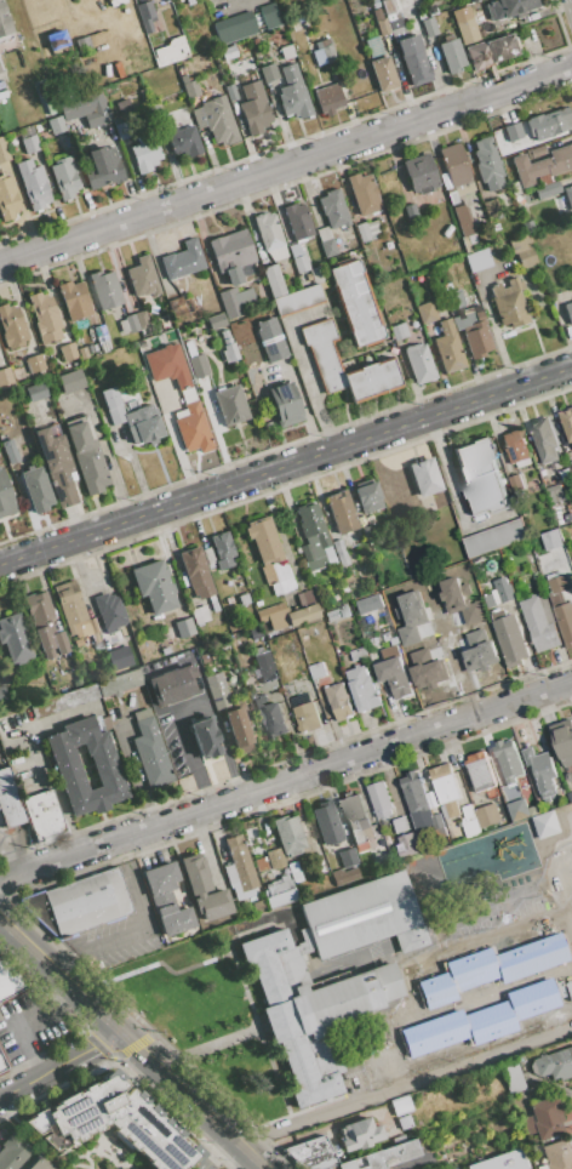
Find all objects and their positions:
building: (114, 2)
building: (189, 2)
building: (374, 4)
building: (388, 6)
building: (507, 7)
building: (431, 10)
building: (377, 15)
building: (145, 16)
building: (269, 16)
building: (390, 16)
building: (4, 19)
building: (233, 27)
building: (429, 27)
building: (396, 29)
building: (467, 29)
building: (447, 36)
building: (55, 41)
building: (7, 42)
building: (85, 45)
building: (373, 46)
building: (326, 50)
building: (170, 51)
building: (228, 52)
building: (287, 52)
building: (490, 52)
building: (452, 56)
building: (412, 59)
building: (118, 69)
building: (0, 70)
building: (269, 72)
building: (182, 74)
building: (383, 74)
building: (61, 78)
building: (107, 78)
building: (159, 82)
building: (190, 89)
building: (2, 90)
building: (230, 91)
building: (293, 93)
building: (42, 97)
building: (328, 98)
building: (121, 104)
building: (85, 107)
building: (17, 112)
building: (155, 114)
building: (176, 114)
building: (256, 116)
building: (216, 120)
building: (548, 122)
building: (55, 124)
building: (121, 127)
building: (513, 131)
building: (29, 138)
building: (183, 141)
building: (2, 150)
building: (536, 152)
building: (145, 153)
building: (487, 164)
road: (286, 165)
building: (508, 166)
building: (539, 166)
building: (101, 167)
building: (456, 169)
building: (419, 173)
building: (64, 177)
building: (33, 184)
building: (547, 189)
building: (364, 193)
building: (568, 196)
building: (7, 198)
building: (452, 198)
building: (491, 207)
building: (333, 209)
building: (410, 211)
building: (298, 221)
building: (463, 221)
building: (527, 226)
building: (373, 228)
building: (362, 233)
building: (270, 235)
building: (325, 241)
building: (467, 245)
building: (521, 251)
building: (230, 253)
building: (297, 257)
building: (183, 260)
building: (479, 260)
building: (314, 274)
building: (142, 278)
building: (273, 280)
building: (446, 286)
building: (105, 289)
building: (74, 300)
building: (298, 300)
building: (454, 301)
building: (238, 302)
building: (509, 302)
building: (355, 304)
building: (179, 306)
building: (425, 312)
building: (568, 312)
building: (45, 318)
building: (142, 320)
building: (216, 320)
building: (127, 324)
building: (11, 326)
building: (474, 330)
building: (399, 331)
building: (101, 333)
building: (270, 338)
building: (189, 347)
building: (227, 347)
building: (447, 347)
building: (68, 350)
building: (81, 352)
building: (324, 353)
building: (34, 363)
building: (419, 363)
building: (198, 365)
building: (141, 367)
road: (303, 367)
building: (5, 376)
building: (15, 376)
building: (372, 380)
building: (70, 381)
building: (35, 392)
building: (189, 399)
building: (230, 404)
building: (285, 404)
building: (111, 405)
building: (567, 423)
building: (143, 424)
building: (561, 429)
building: (545, 440)
building: (516, 447)
building: (11, 450)
building: (86, 457)
building: (56, 464)
road: (285, 464)
building: (16, 468)
building: (508, 469)
building: (565, 475)
building: (424, 477)
building: (481, 477)
building: (516, 485)
building: (36, 489)
building: (556, 495)
building: (367, 496)
building: (5, 497)
building: (341, 511)
building: (567, 519)
building: (367, 535)
building: (311, 536)
building: (496, 540)
building: (553, 541)
building: (222, 549)
building: (341, 554)
building: (328, 555)
building: (269, 557)
building: (208, 558)
building: (198, 575)
building: (154, 586)
building: (557, 587)
building: (342, 588)
building: (504, 591)
building: (332, 597)
building: (242, 598)
building: (230, 600)
building: (459, 601)
building: (490, 601)
building: (70, 603)
building: (371, 606)
building: (303, 609)
building: (109, 611)
building: (345, 611)
building: (199, 614)
building: (331, 615)
building: (274, 616)
building: (411, 618)
building: (40, 620)
building: (162, 621)
building: (564, 621)
building: (540, 623)
building: (88, 627)
building: (184, 627)
building: (15, 638)
building: (110, 638)
building: (96, 639)
building: (509, 639)
building: (61, 641)
building: (78, 641)
building: (165, 650)
building: (479, 651)
building: (359, 654)
building: (390, 654)
building: (119, 657)
building: (264, 667)
building: (427, 669)
building: (319, 675)
building: (395, 678)
building: (121, 684)
building: (175, 685)
building: (216, 685)
building: (1, 689)
building: (362, 689)
building: (63, 700)
building: (339, 701)
road: (191, 708)
building: (305, 714)
building: (270, 715)
building: (105, 723)
building: (239, 725)
building: (205, 737)
building: (564, 740)
building: (150, 752)
building: (509, 762)
building: (480, 772)
building: (69, 775)
building: (543, 775)
road: (285, 780)
building: (446, 791)
building: (413, 793)
building: (10, 800)
building: (379, 800)
building: (431, 800)
building: (517, 810)
building: (44, 816)
building: (488, 816)
building: (355, 817)
building: (417, 820)
building: (326, 822)
building: (470, 823)
building: (401, 825)
building: (439, 826)
building: (548, 826)
building: (288, 834)
building: (378, 843)
building: (408, 846)
road: (15, 850)
building: (347, 856)
building: (275, 857)
building: (319, 862)
building: (262, 866)
building: (239, 868)
building: (294, 872)
building: (343, 874)
building: (204, 889)
building: (280, 890)
building: (166, 897)
building: (81, 902)
building: (257, 906)
building: (153, 942)
building: (11, 974)
road: (59, 975)
building: (331, 992)
building: (527, 1013)
building: (508, 1020)
road: (21, 1021)
traffic signals: (121, 1033)
building: (452, 1038)
road: (91, 1049)
building: (385, 1061)
building: (1, 1063)
building: (553, 1063)
building: (510, 1076)
road: (29, 1082)
road: (175, 1084)
road: (405, 1085)
building: (519, 1104)
building: (400, 1105)
building: (547, 1117)
building: (405, 1122)
building: (115, 1123)
building: (526, 1124)
building: (359, 1134)
building: (12, 1151)
road: (247, 1151)
road: (215, 1152)
building: (311, 1153)
building: (557, 1154)
building: (382, 1156)
road: (244, 1162)
building: (501, 1162)
building: (39, 1164)
building: (543, 1167)

